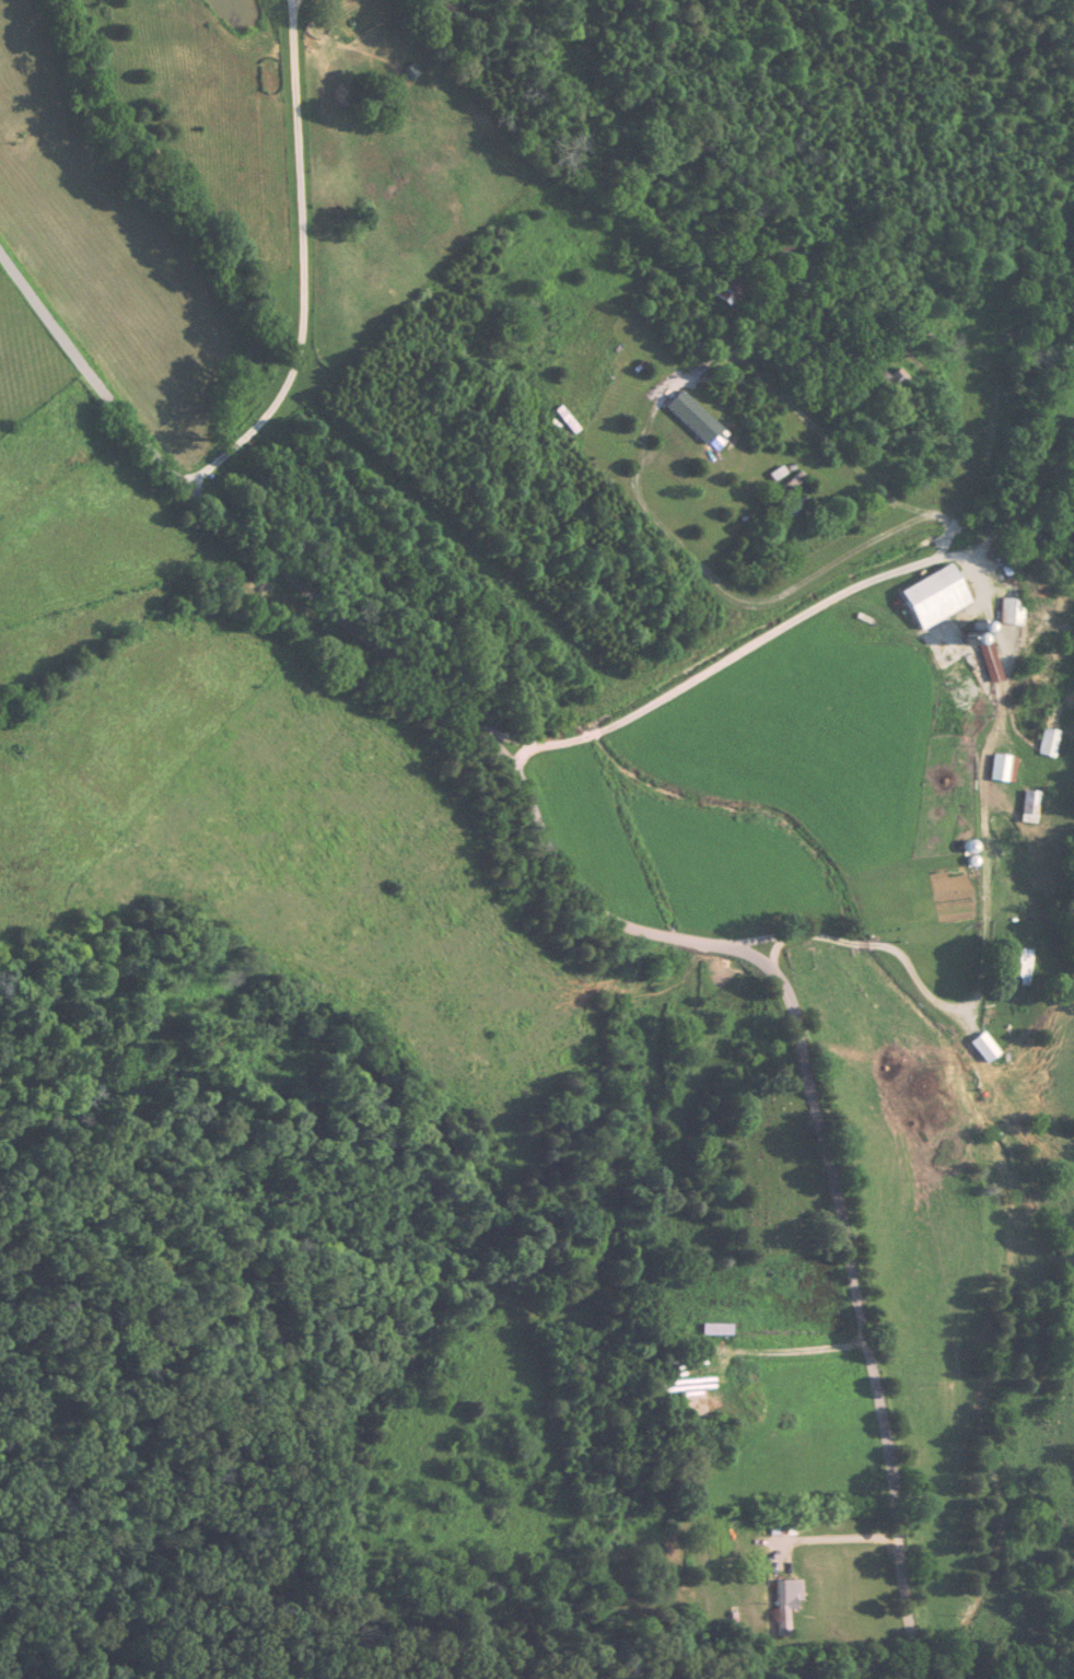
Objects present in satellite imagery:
building: (774, 250)
building: (715, 283)
building: (686, 415)
building: (926, 596)
building: (1005, 609)
road: (764, 649)
building: (983, 658)
building: (960, 690)
building: (1046, 741)
building: (996, 767)
building: (1025, 805)
road: (586, 913)
building: (1013, 961)
building: (978, 1045)
building: (710, 1327)
building: (780, 1604)

